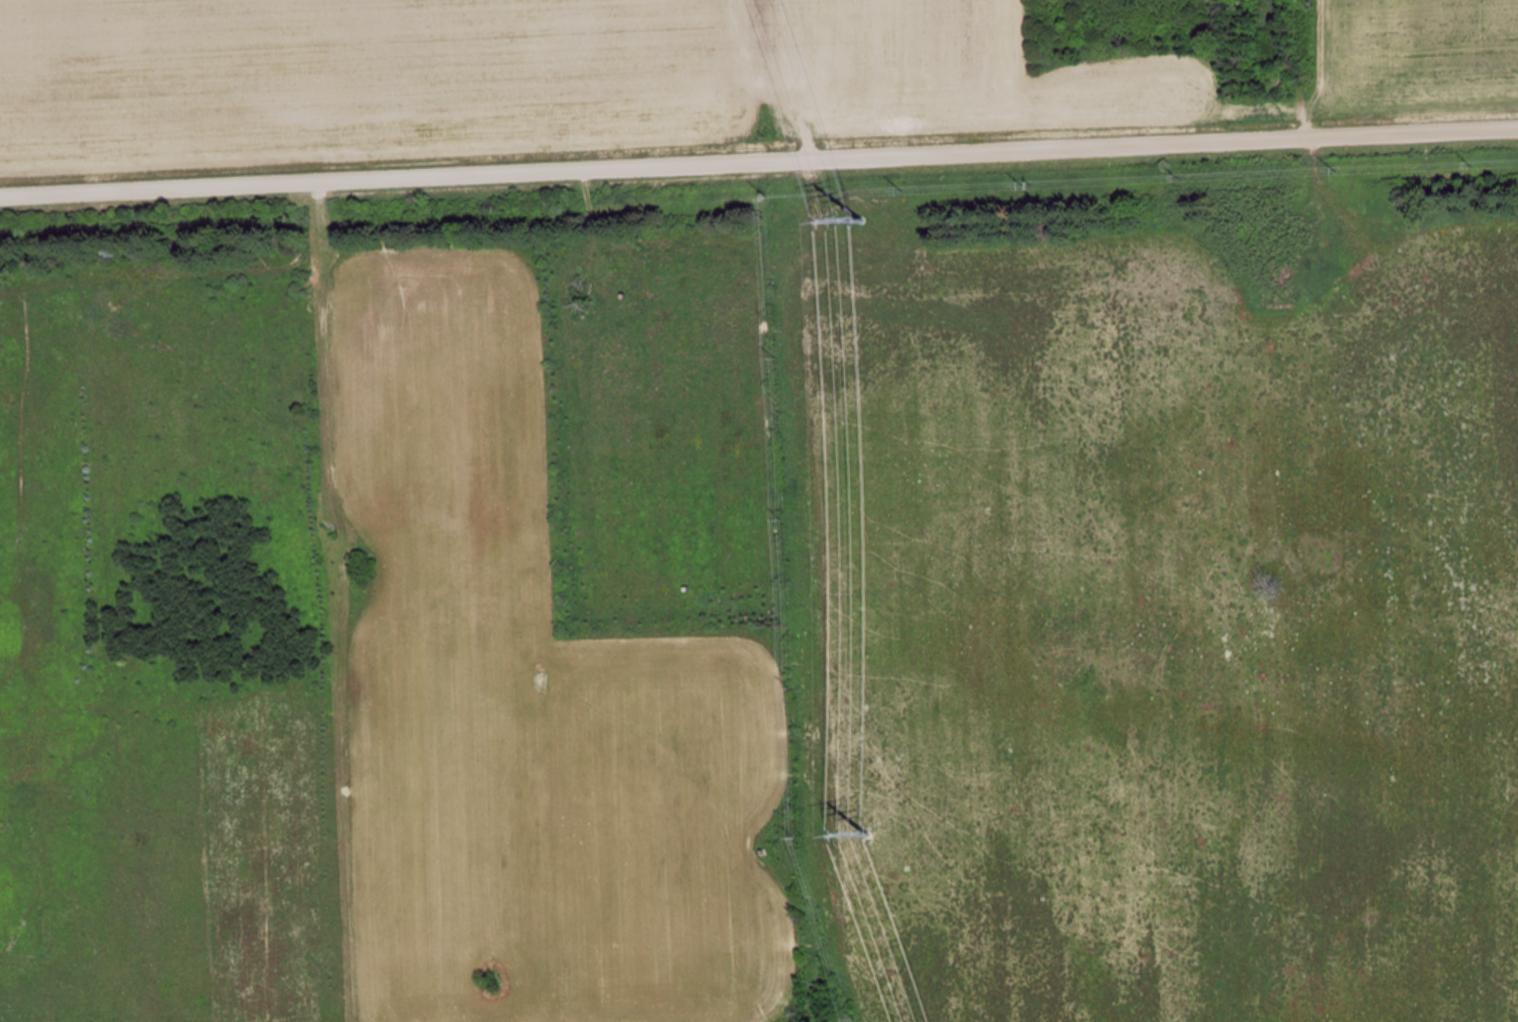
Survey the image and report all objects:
road: (759, 164)
power tower: (861, 222)
power tower: (868, 836)

